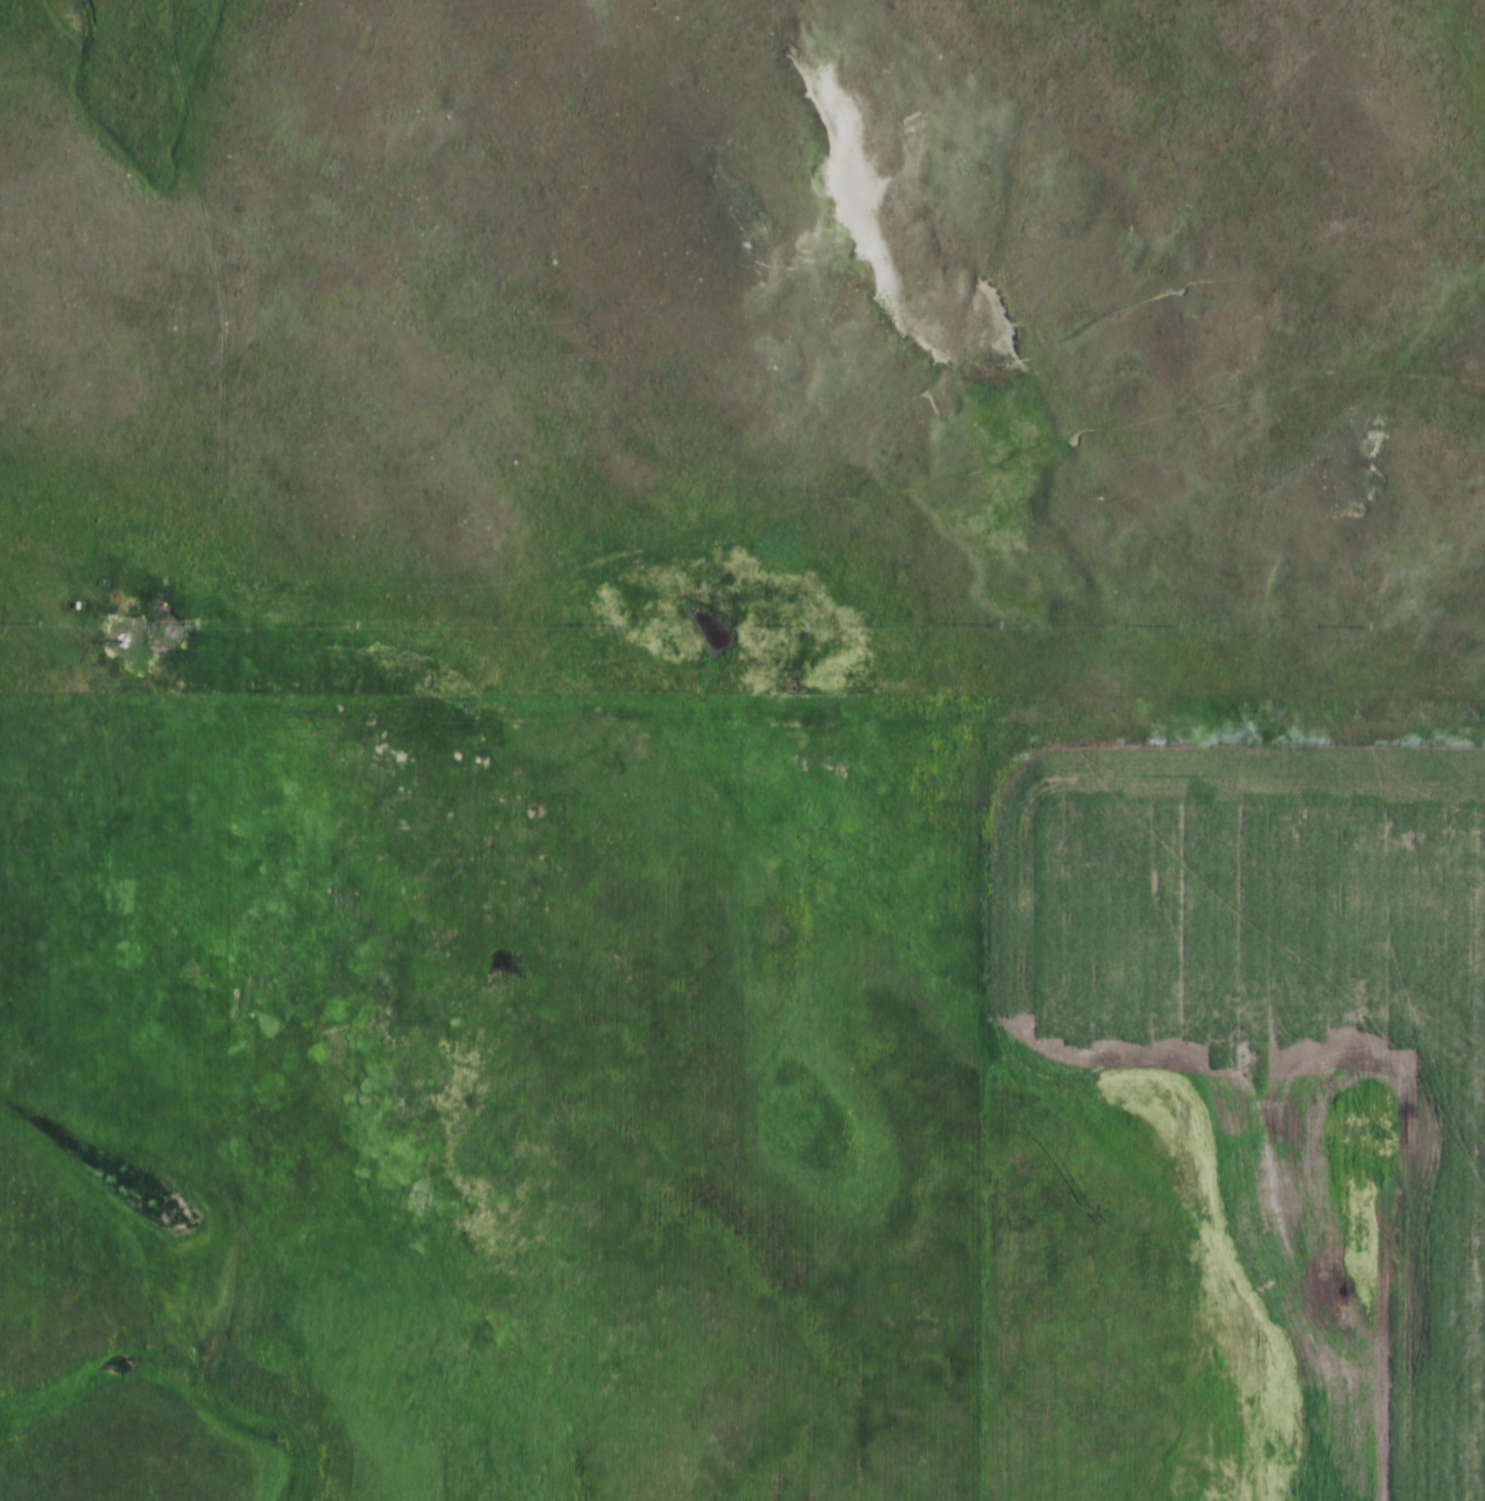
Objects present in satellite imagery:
road: (742, 715)

